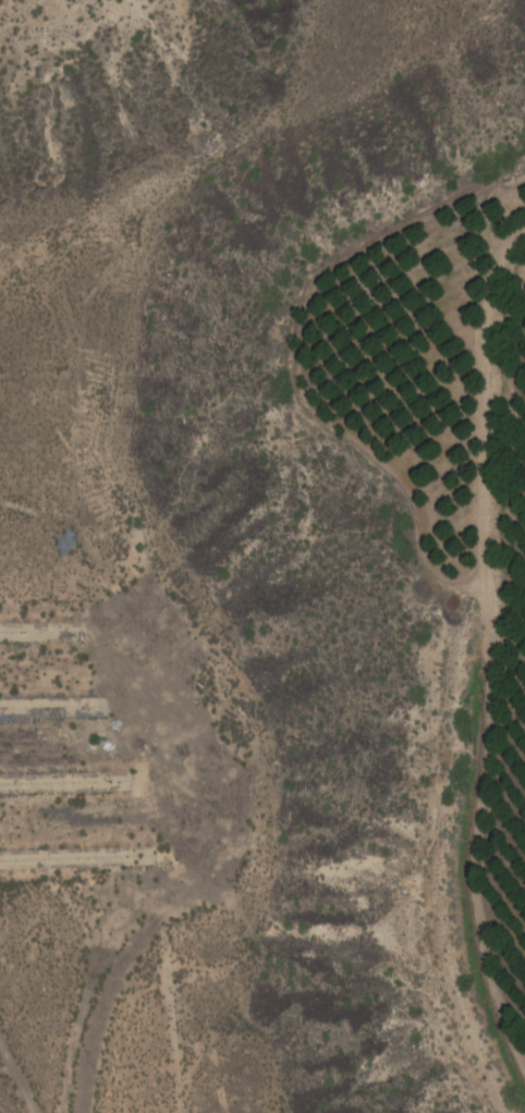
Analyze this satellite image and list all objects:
road: (171, 880)
road: (20, 1079)

